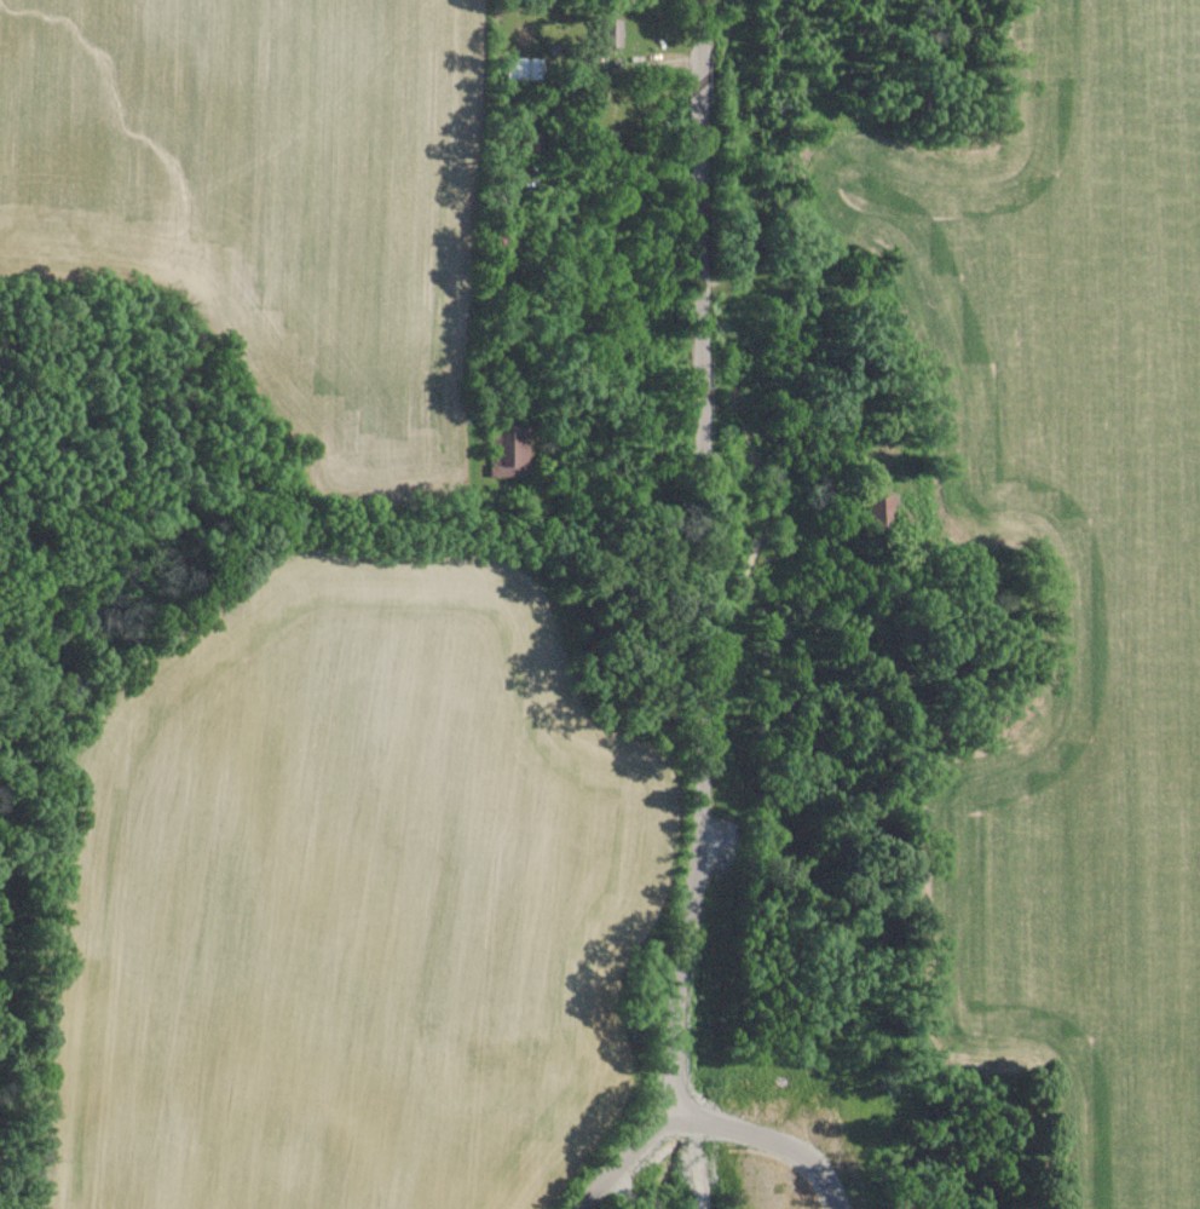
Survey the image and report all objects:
road: (617, 410)
building: (515, 453)
road: (700, 563)
road: (772, 1139)
road: (698, 1159)
road: (616, 1167)

